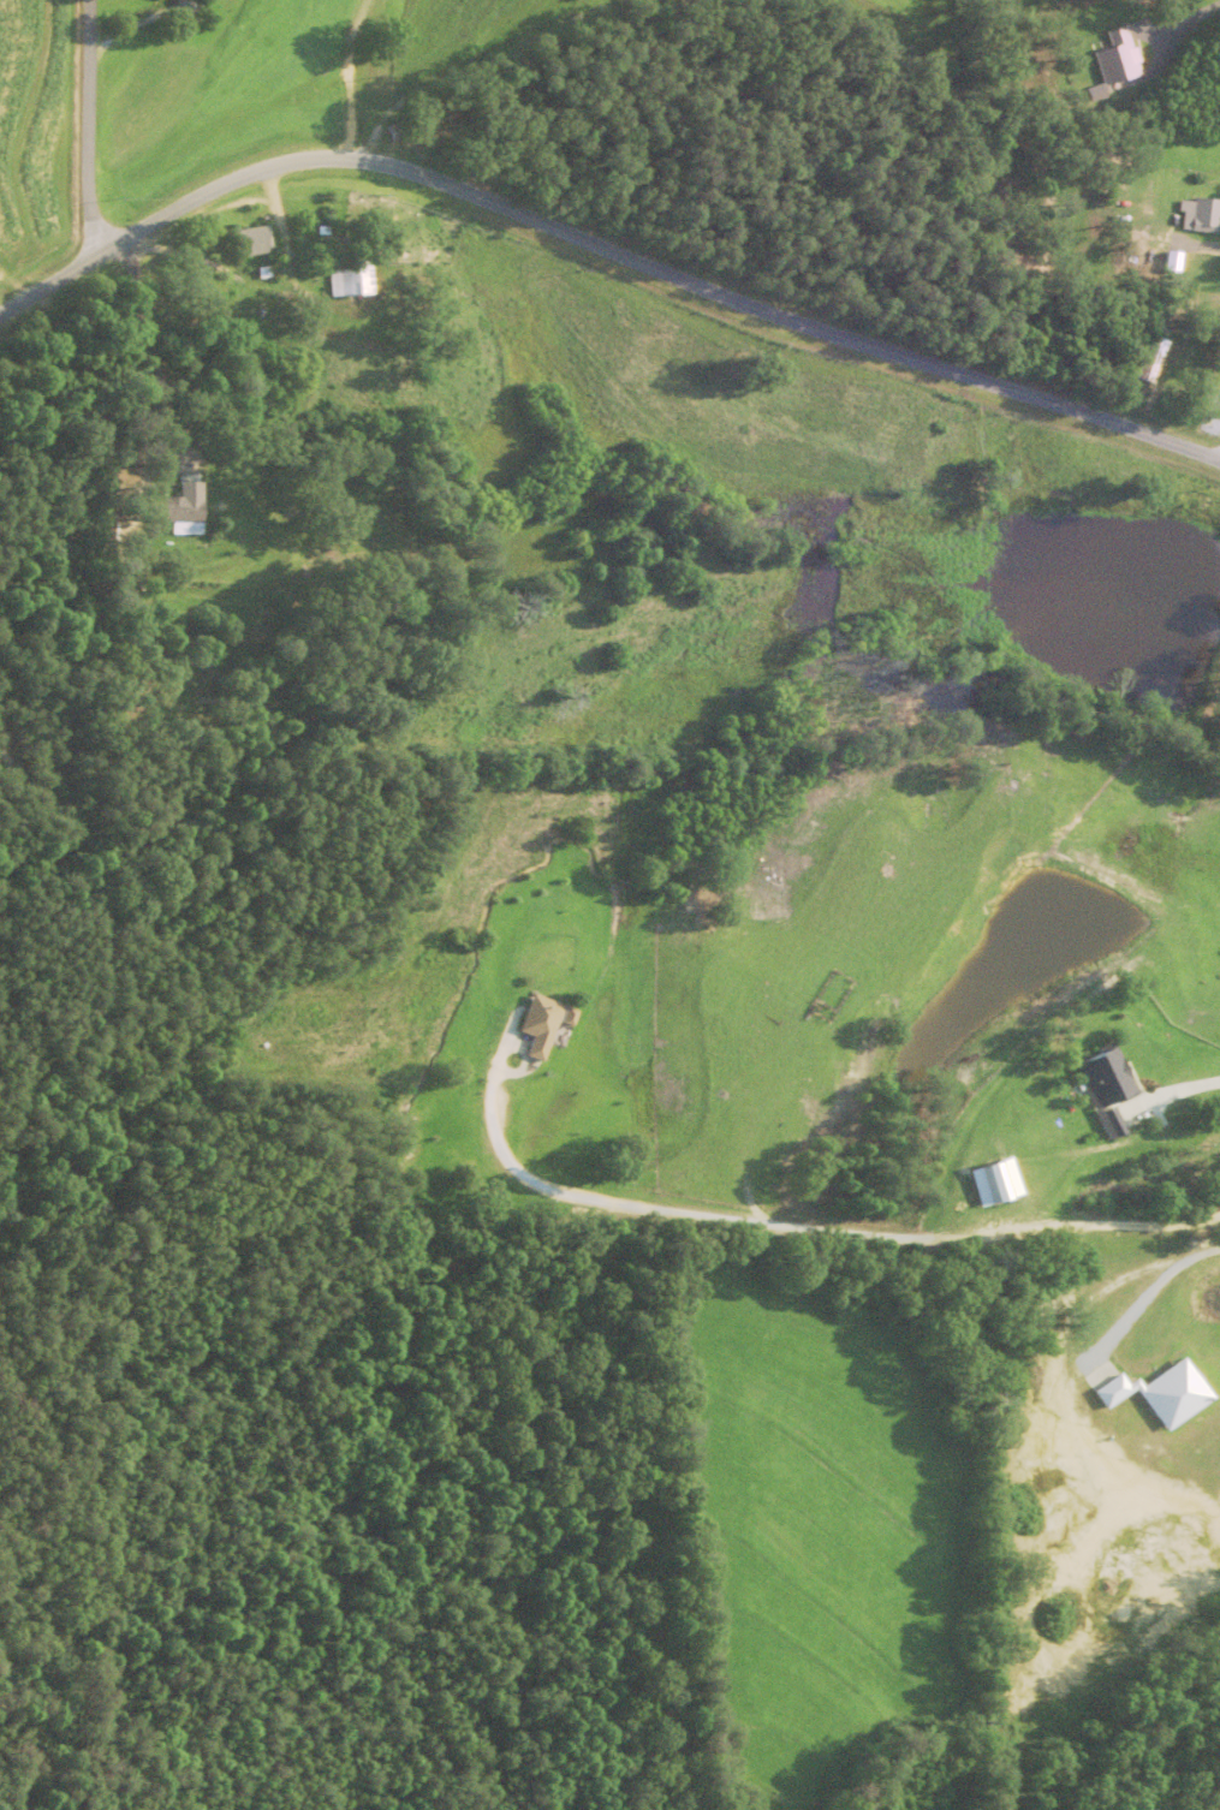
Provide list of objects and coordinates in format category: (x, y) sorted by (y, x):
building: (1107, 58)
road: (425, 62)
road: (94, 131)
building: (1197, 216)
building: (252, 244)
building: (1131, 251)
road: (650, 268)
building: (351, 280)
road: (48, 288)
building: (1144, 362)
road: (186, 385)
building: (183, 518)
building: (118, 535)
building: (541, 1026)
building: (1099, 1086)
building: (986, 1181)

